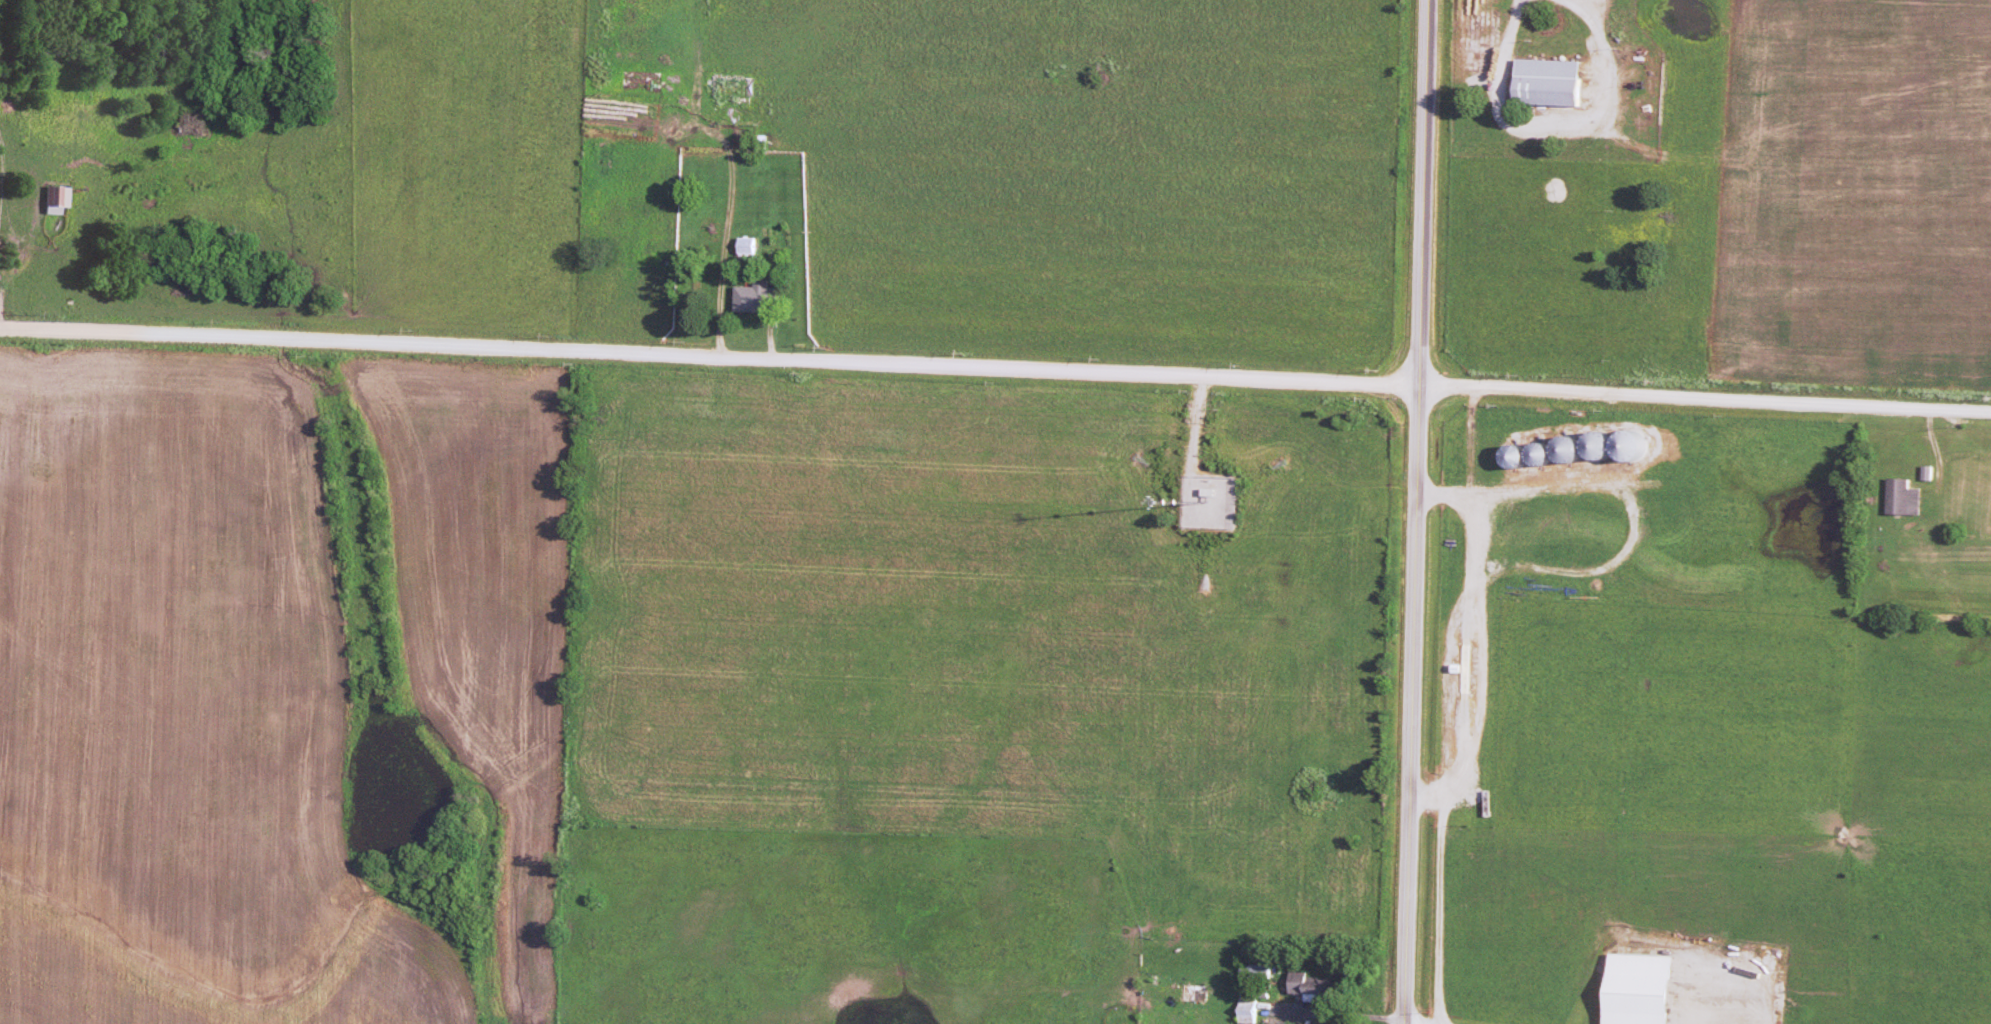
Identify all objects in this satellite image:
road: (1506, 44)
building: (1549, 79)
building: (747, 243)
building: (754, 293)
road: (995, 368)
building: (1904, 493)
road: (1415, 511)
road: (1447, 682)
road: (1476, 736)
road: (1428, 792)
building: (1643, 987)
road: (1341, 1012)

